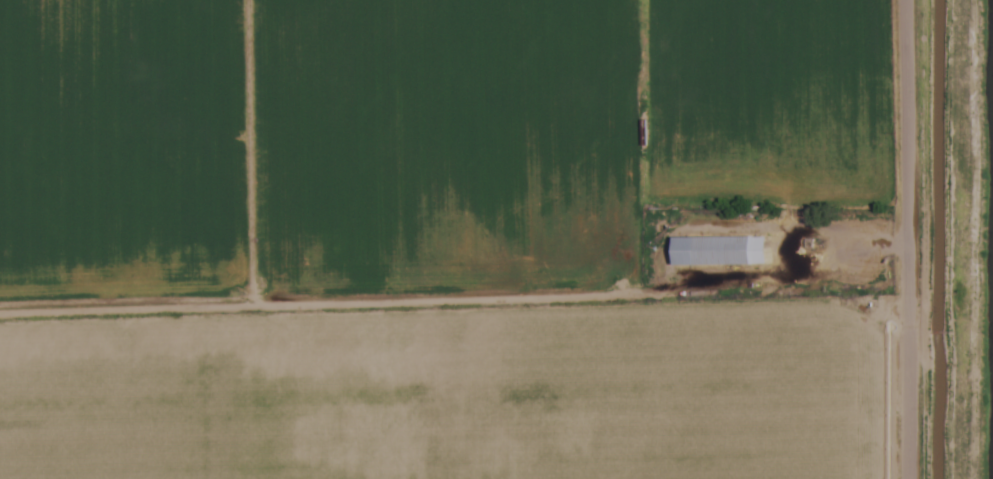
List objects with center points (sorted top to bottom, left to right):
road: (901, 239)
building: (719, 253)

